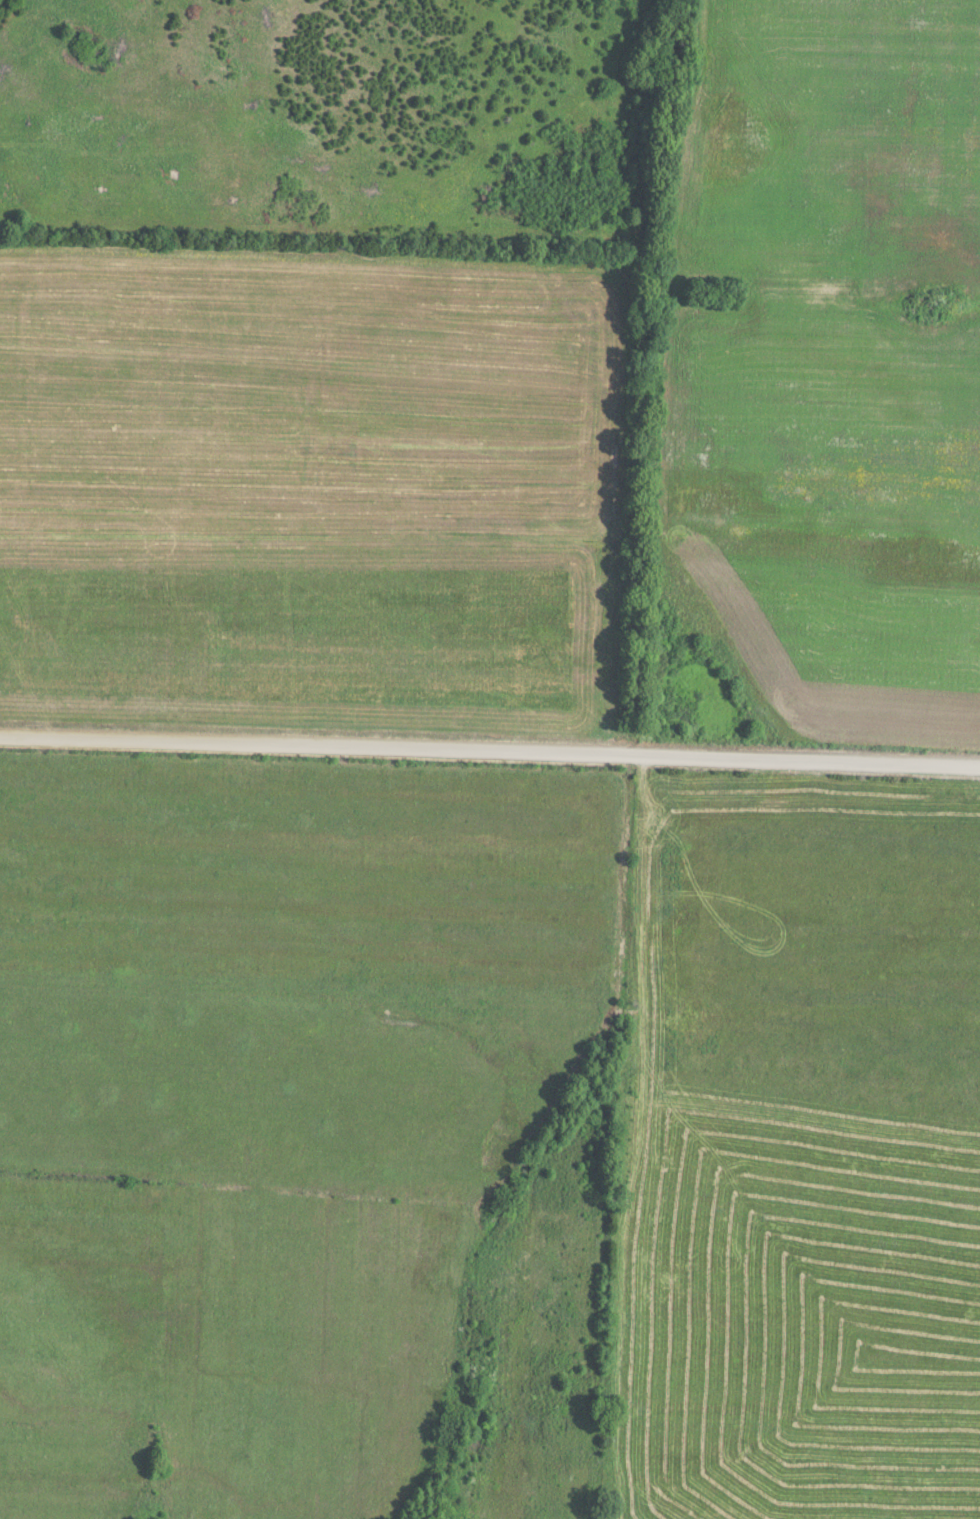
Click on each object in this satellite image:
road: (490, 752)

